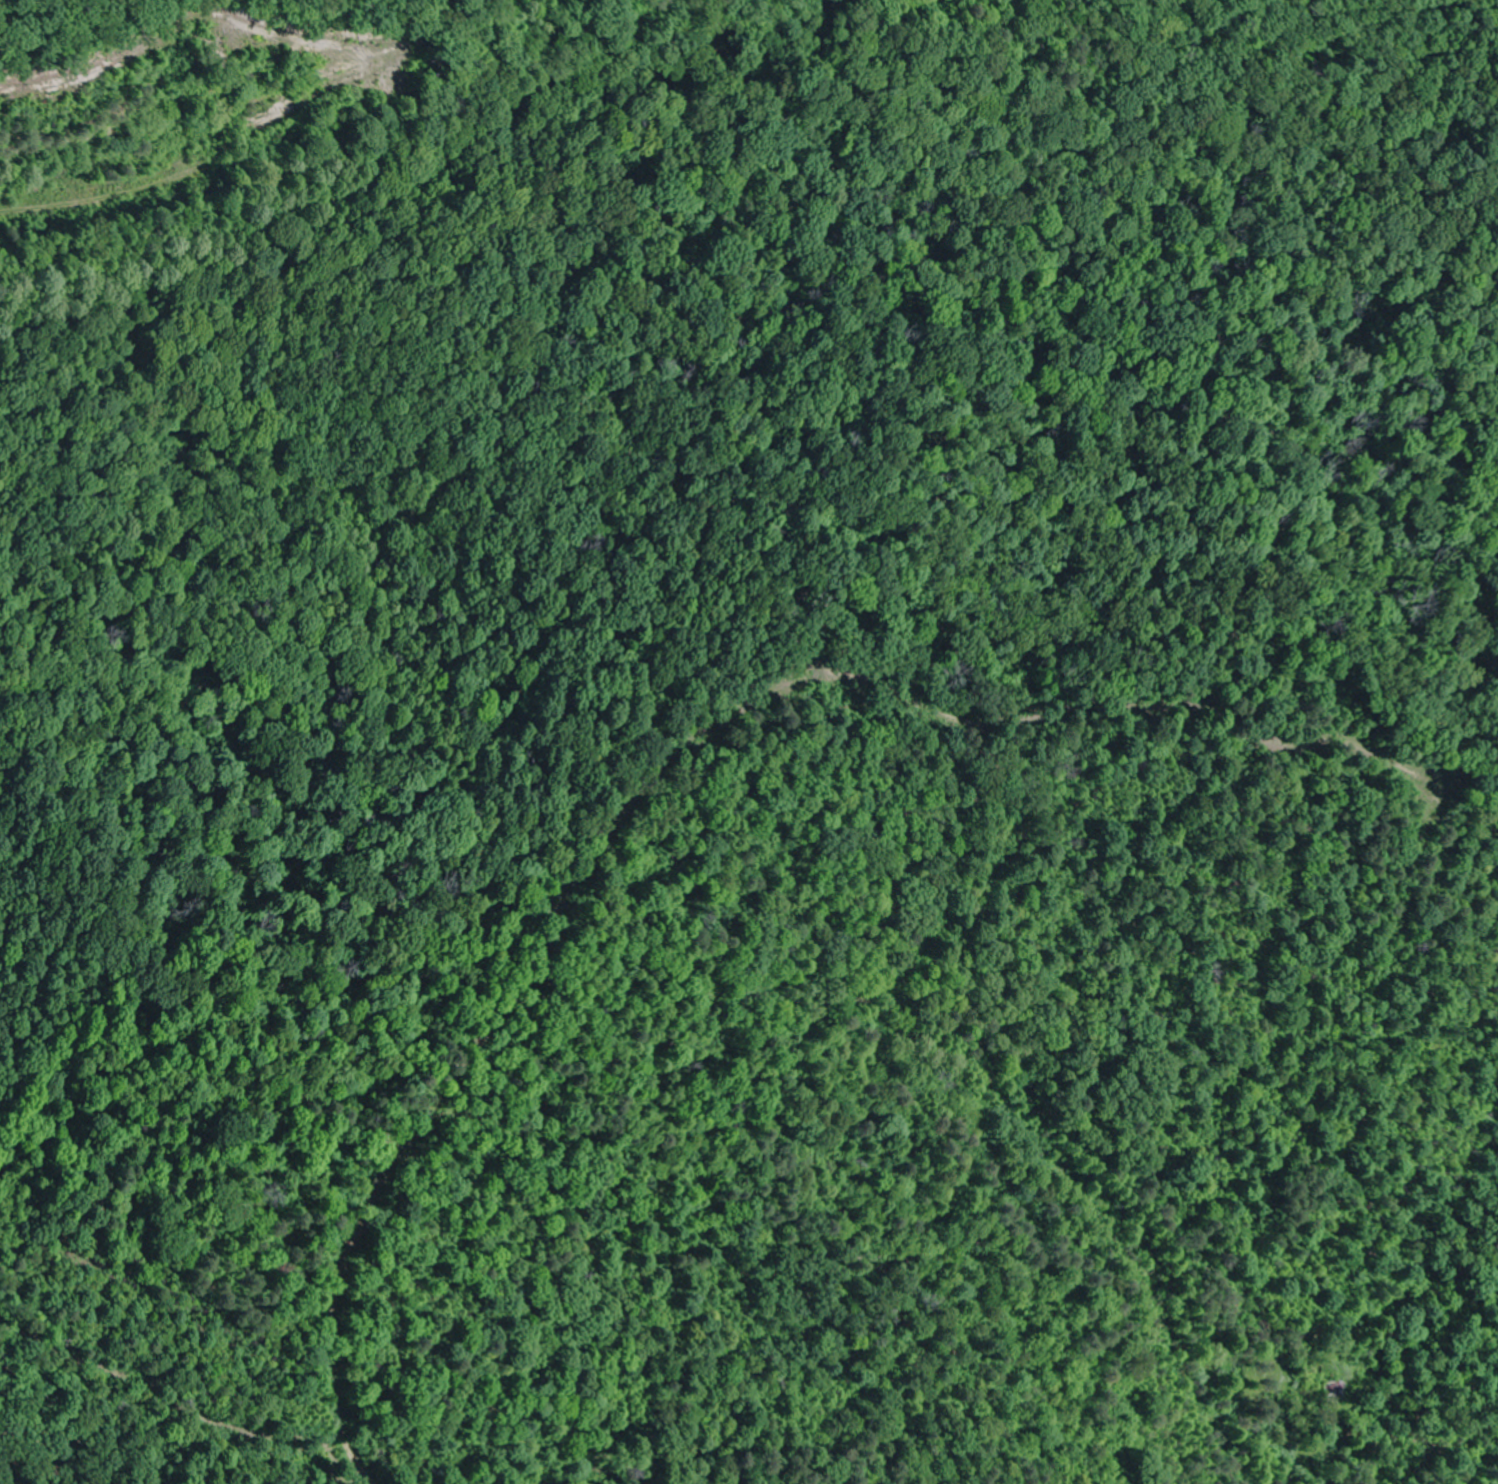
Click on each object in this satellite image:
building: (1332, 1388)

